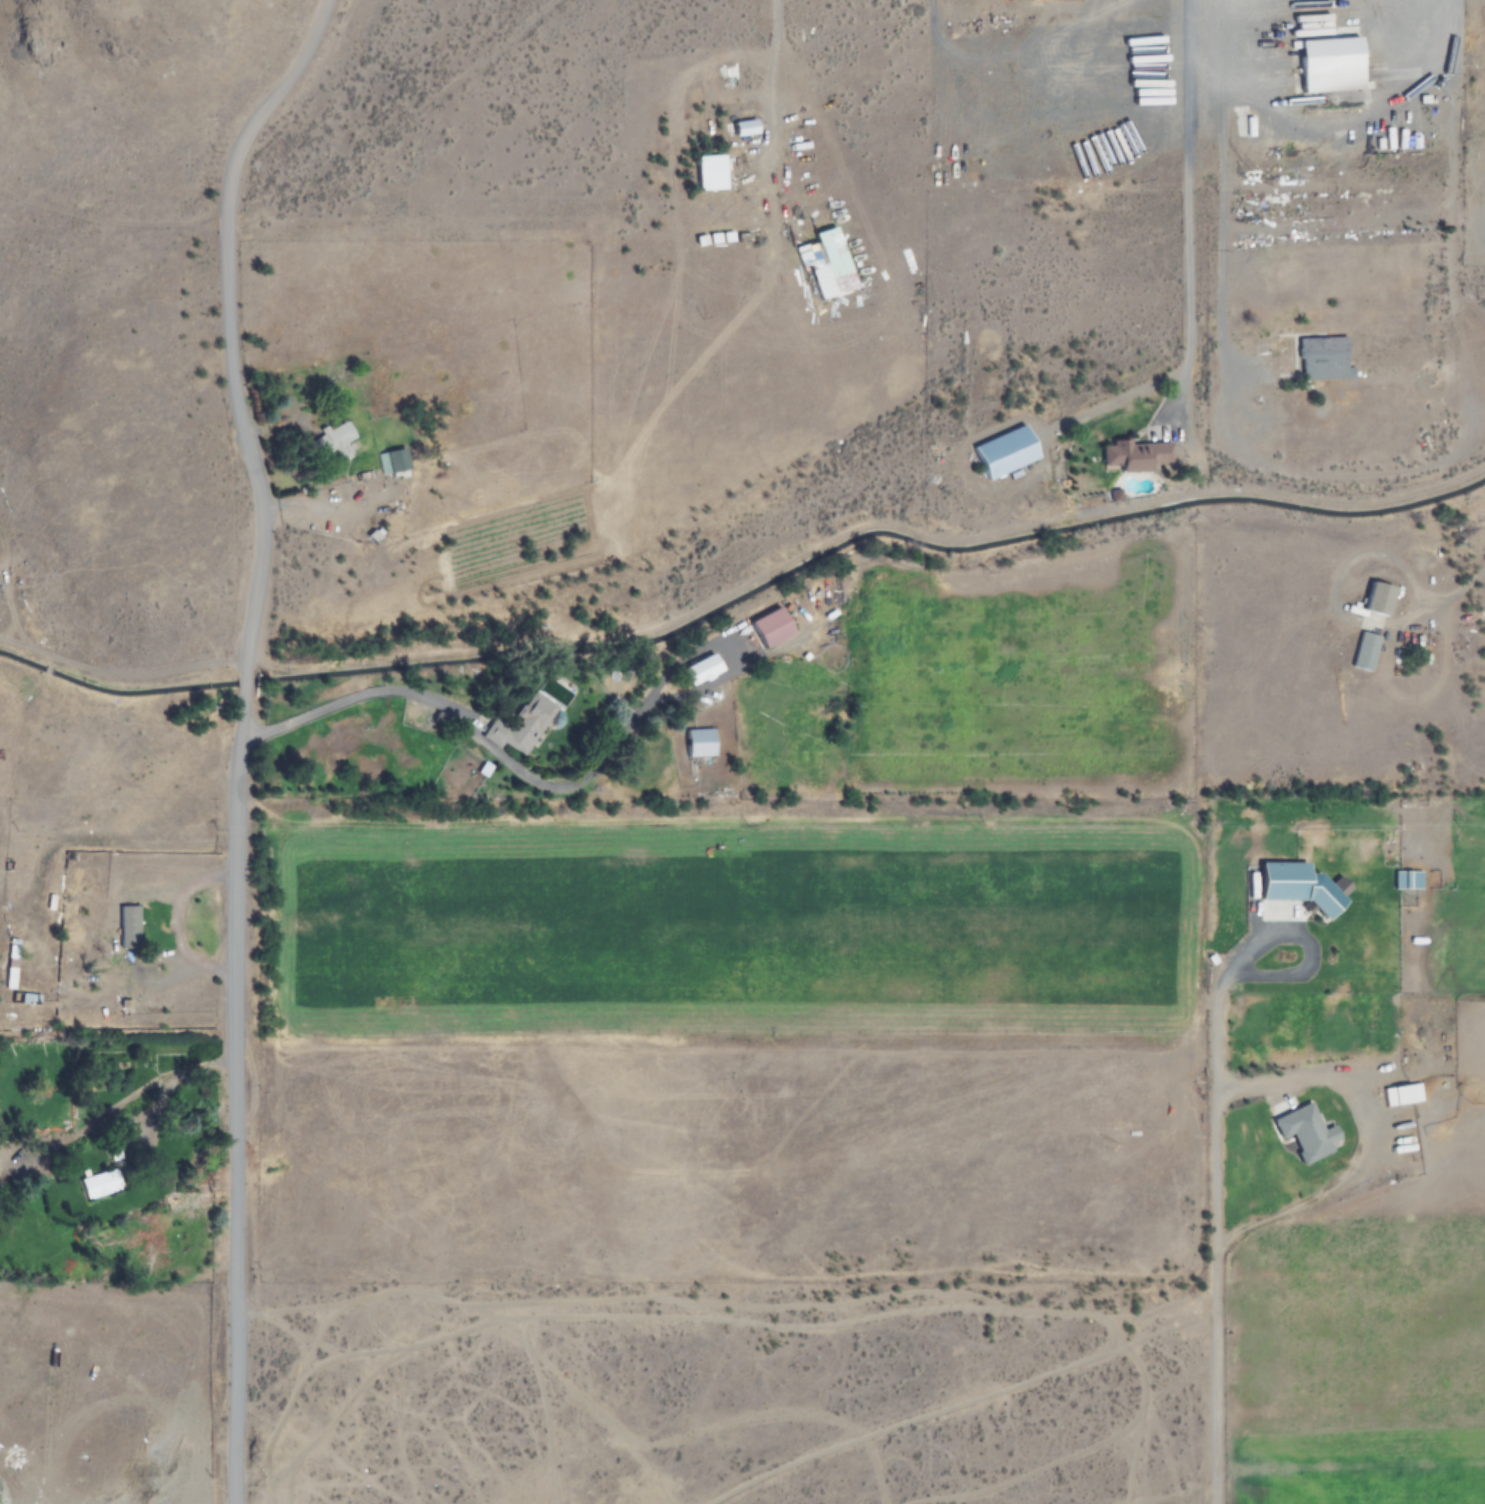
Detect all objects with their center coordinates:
building: (1326, 63)
road: (773, 65)
building: (1246, 126)
building: (709, 172)
road: (1189, 206)
building: (1253, 267)
building: (823, 268)
building: (1321, 359)
building: (329, 442)
building: (1134, 456)
building: (391, 461)
building: (1377, 600)
building: (770, 628)
building: (1364, 652)
building: (701, 669)
road: (400, 690)
building: (527, 724)
road: (246, 734)
building: (700, 742)
building: (1280, 882)
building: (129, 928)
building: (12, 965)
building: (1304, 1132)
building: (99, 1183)
road: (1222, 1379)

